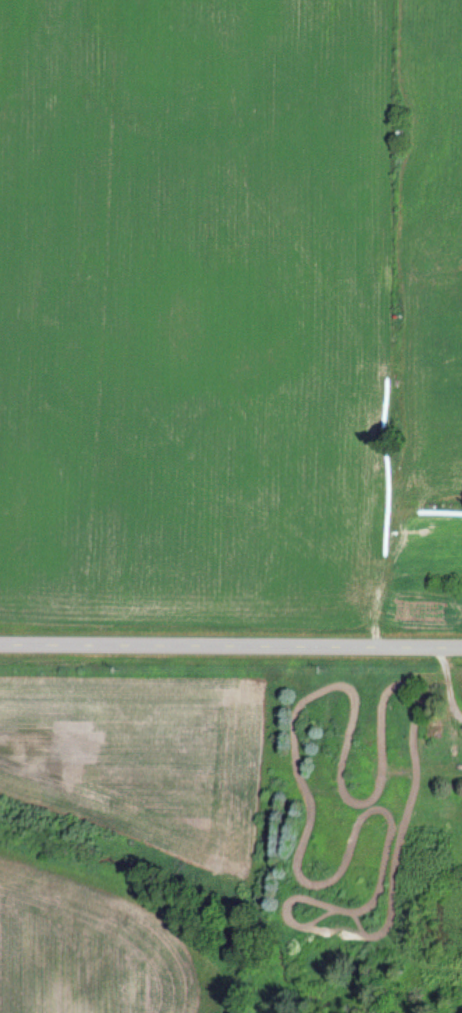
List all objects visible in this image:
road: (231, 637)

